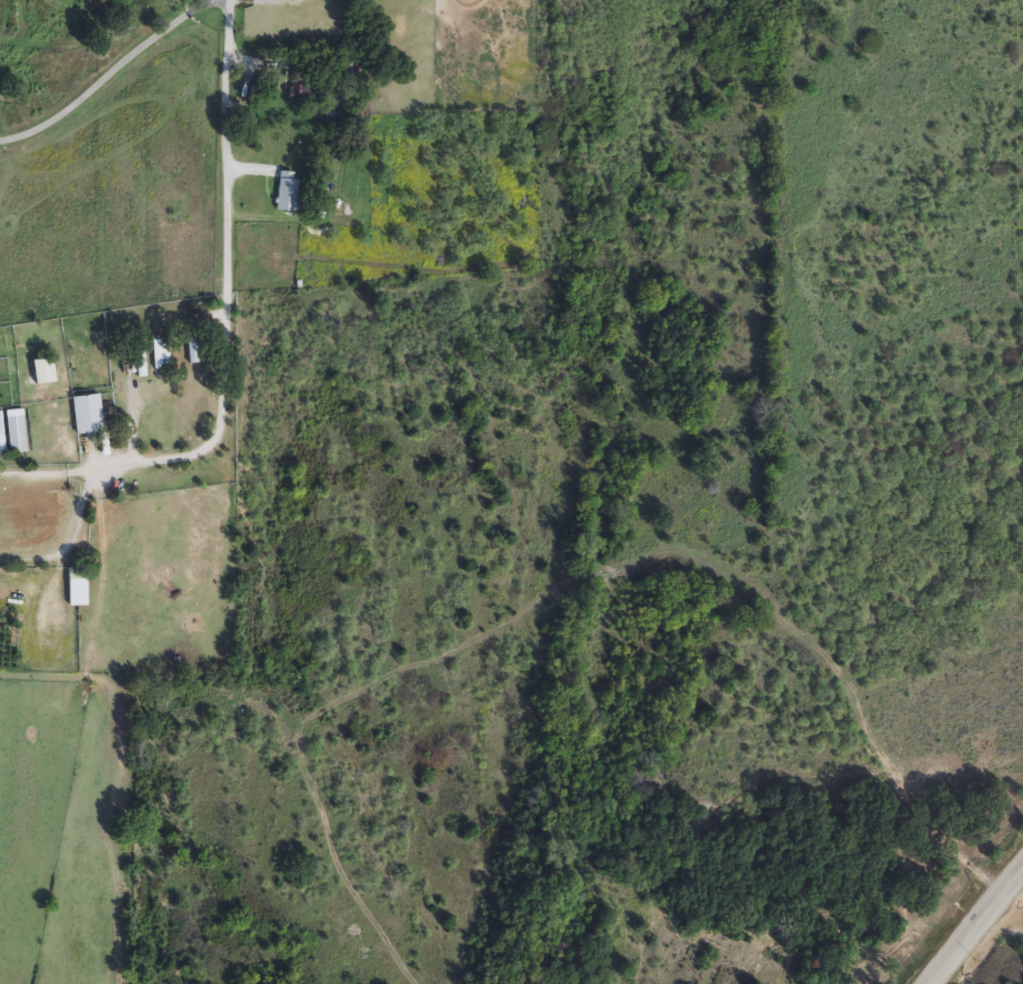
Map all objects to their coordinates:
road: (109, 75)
building: (303, 91)
building: (289, 187)
road: (230, 279)
building: (193, 349)
building: (158, 354)
building: (140, 363)
building: (45, 372)
building: (88, 415)
building: (19, 433)
building: (3, 435)
building: (79, 588)
road: (976, 924)

